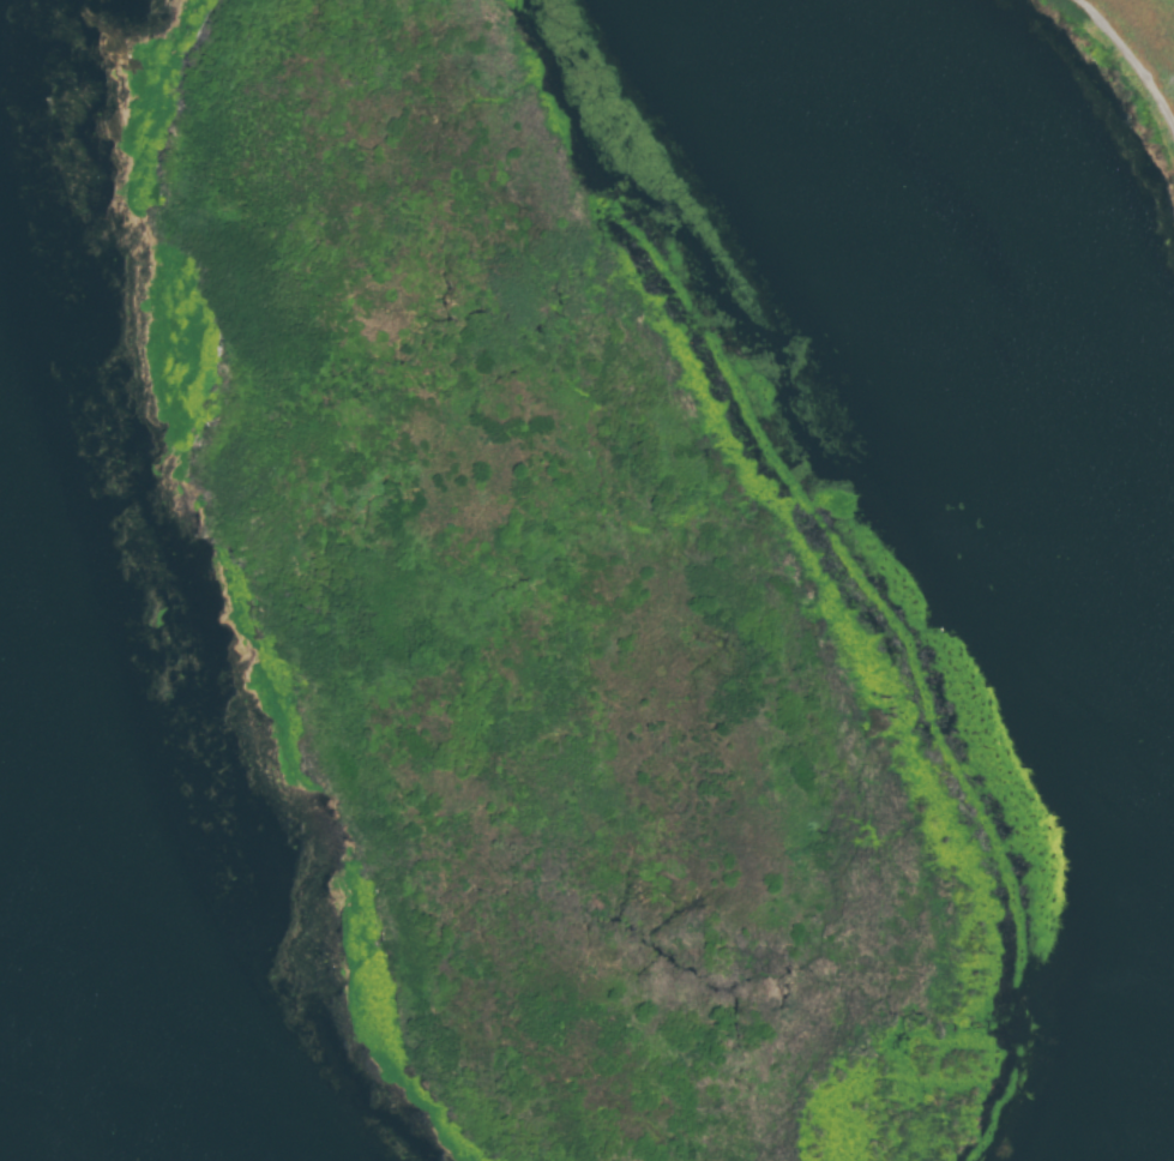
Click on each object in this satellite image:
crop: (1112, 59)
river: (1082, 534)
river: (90, 922)

